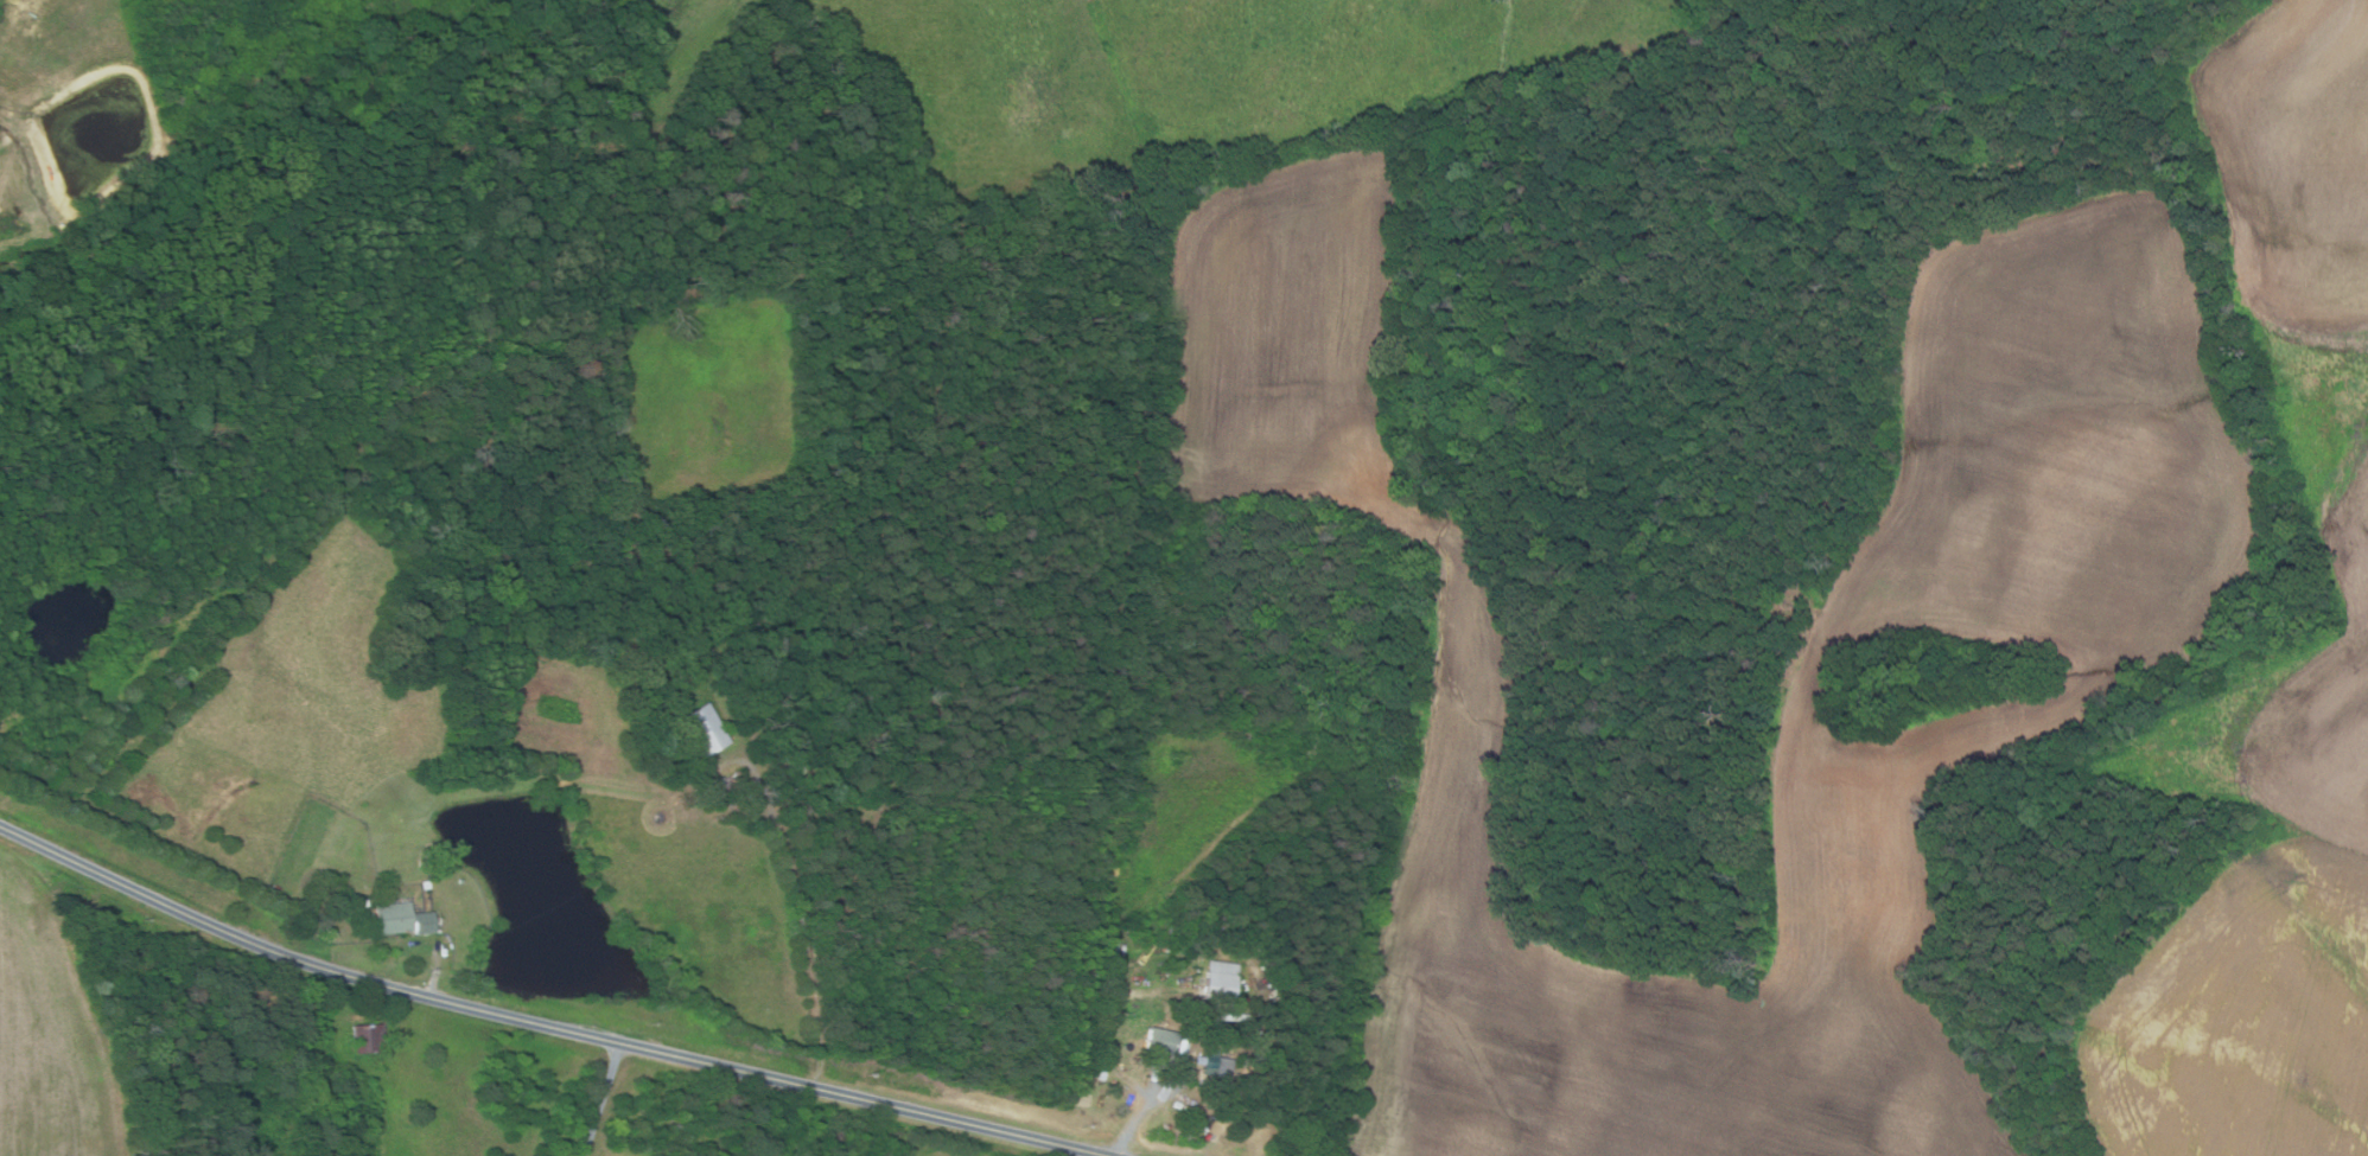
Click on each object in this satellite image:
crop: (2292, 411)
crop: (2130, 654)
building: (702, 729)
building: (796, 768)
building: (734, 786)
building: (422, 864)
building: (461, 881)
building: (425, 884)
building: (275, 893)
building: (363, 902)
building: (393, 917)
building: (422, 922)
road: (803, 940)
road: (434, 971)
building: (1221, 982)
crop: (2243, 1016)
road: (542, 1022)
building: (1197, 1024)
crop: (49, 1030)
building: (368, 1037)
building: (1160, 1040)
building: (1183, 1045)
building: (1210, 1061)
building: (1224, 1067)
building: (1191, 1073)
road: (599, 1098)
road: (1141, 1112)

